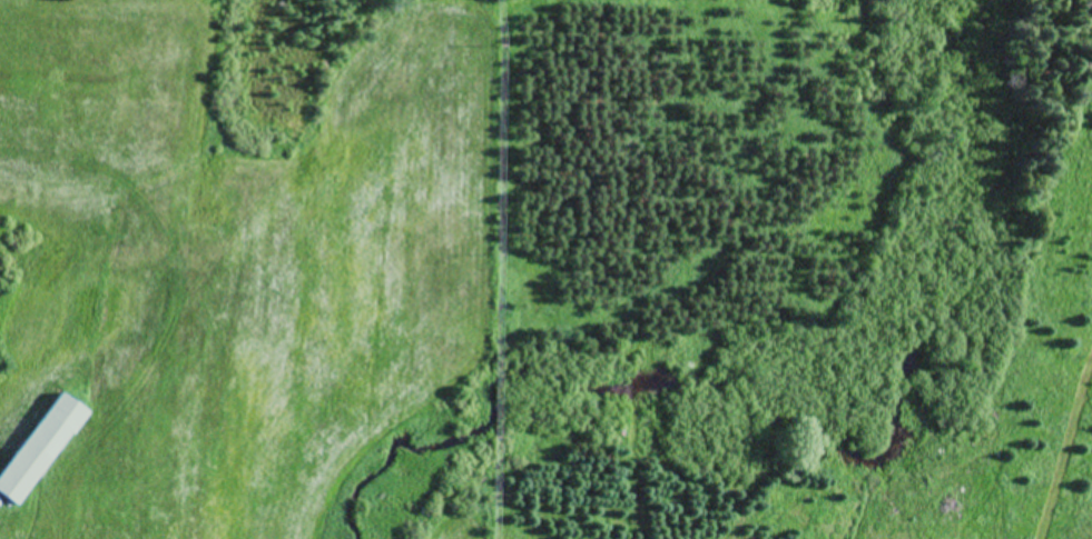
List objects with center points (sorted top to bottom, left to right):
building: (40, 447)

